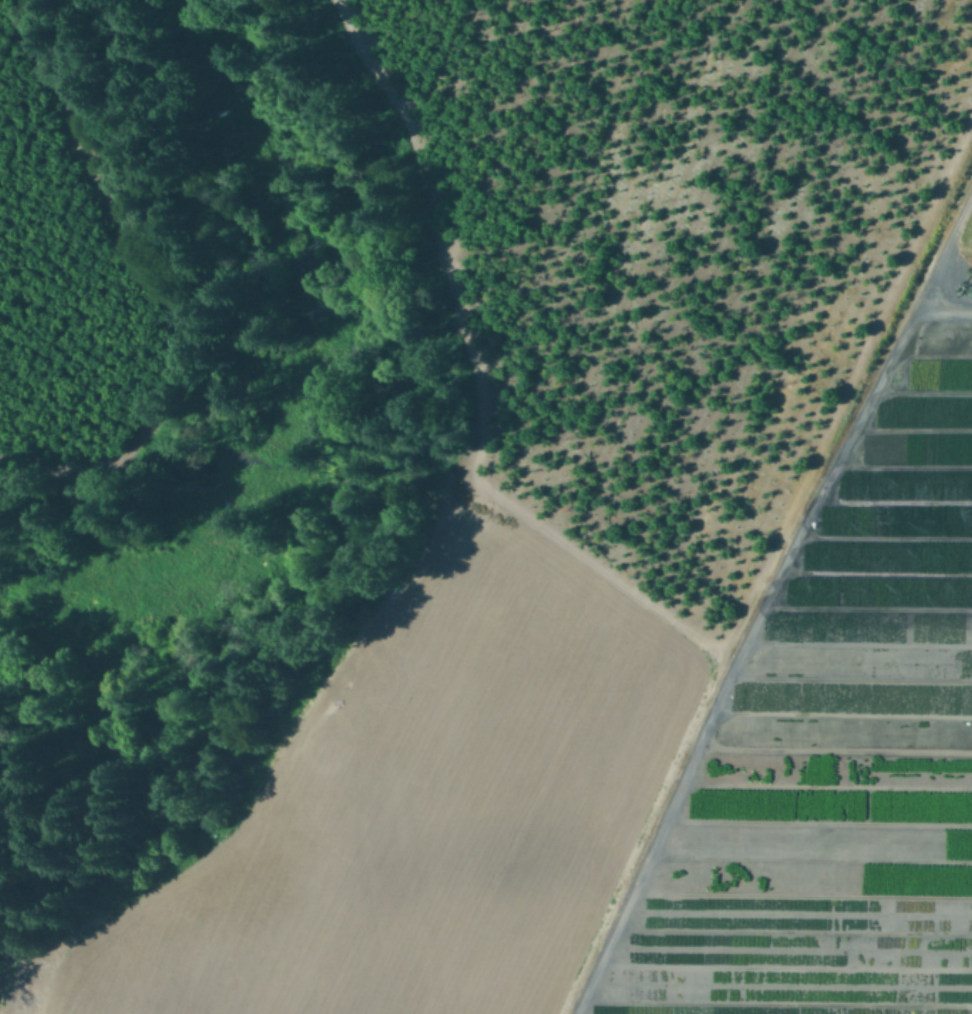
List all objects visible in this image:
road: (764, 601)

